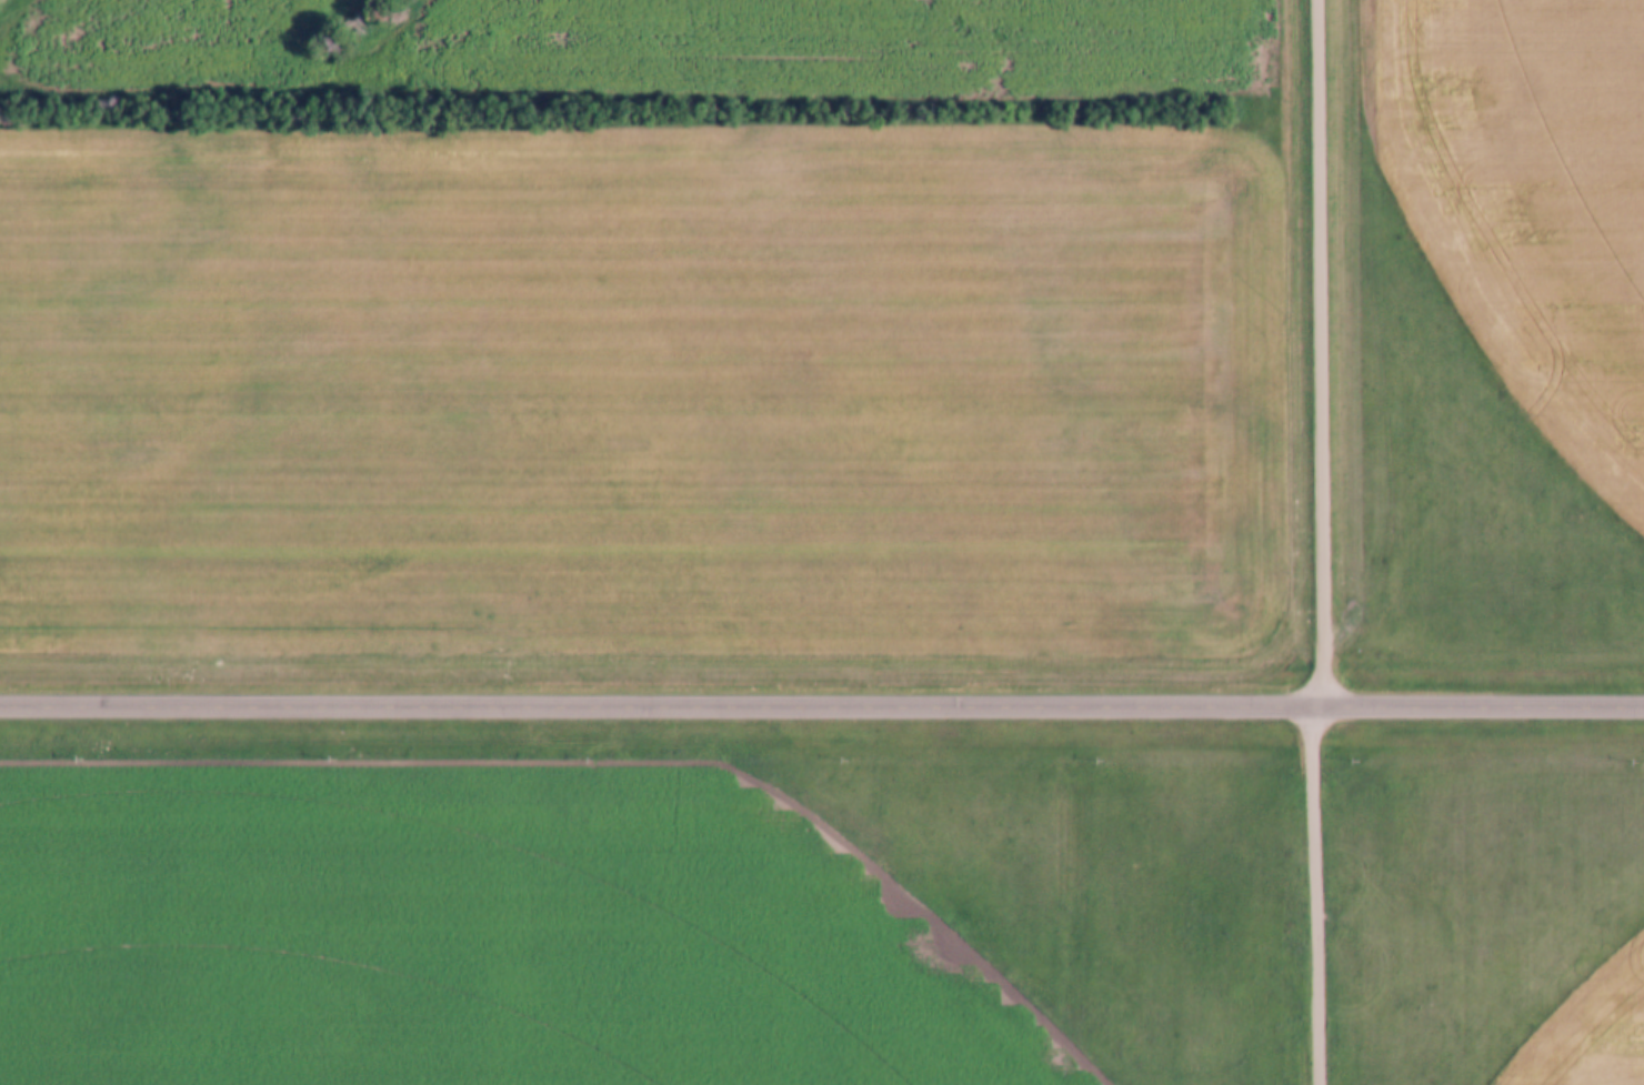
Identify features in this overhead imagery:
road: (1317, 353)
road: (822, 707)
road: (1311, 895)

